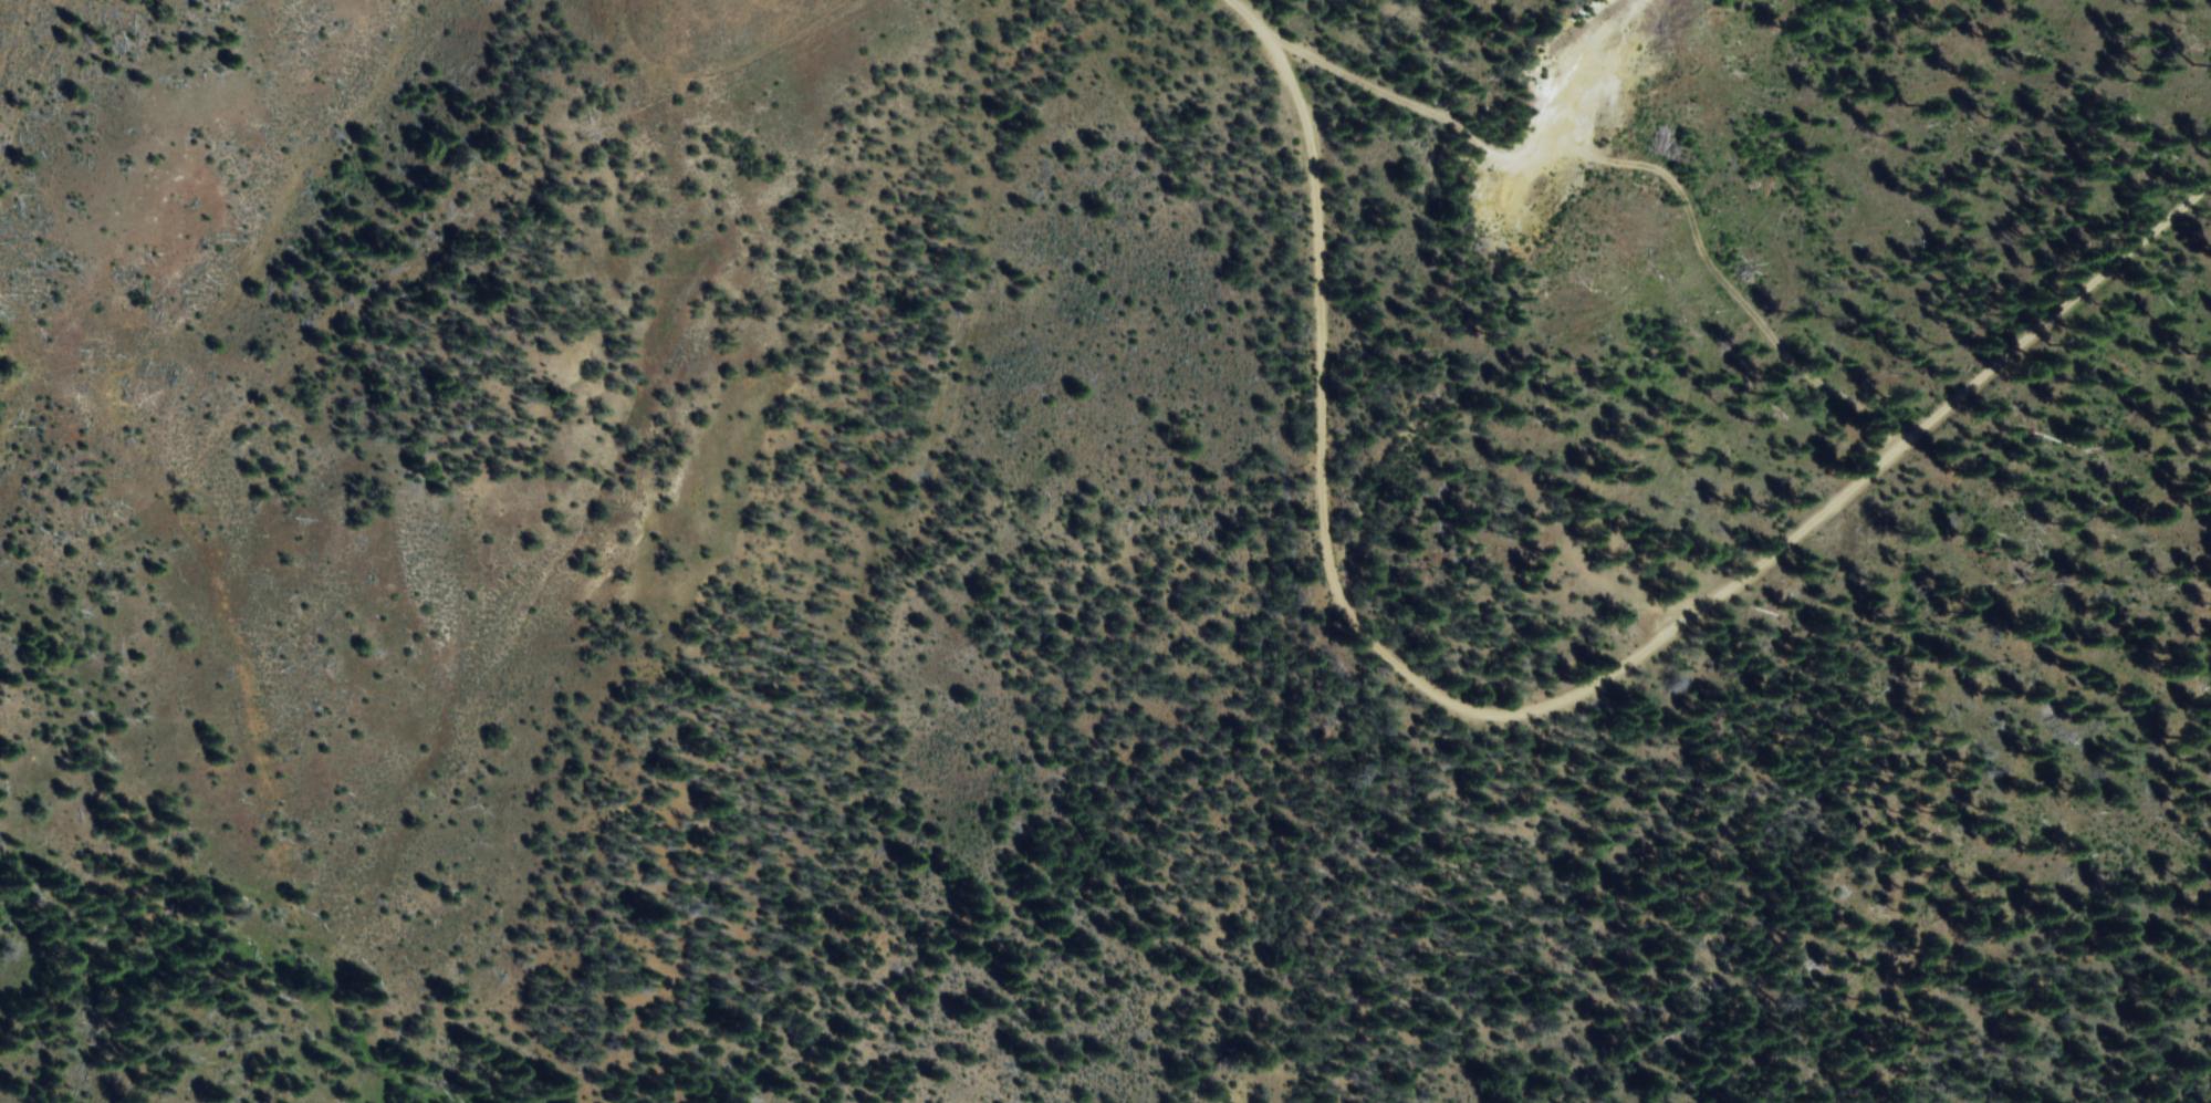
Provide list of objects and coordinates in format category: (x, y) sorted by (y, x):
quarry: (1566, 115)
road: (1628, 163)
road: (1524, 706)

